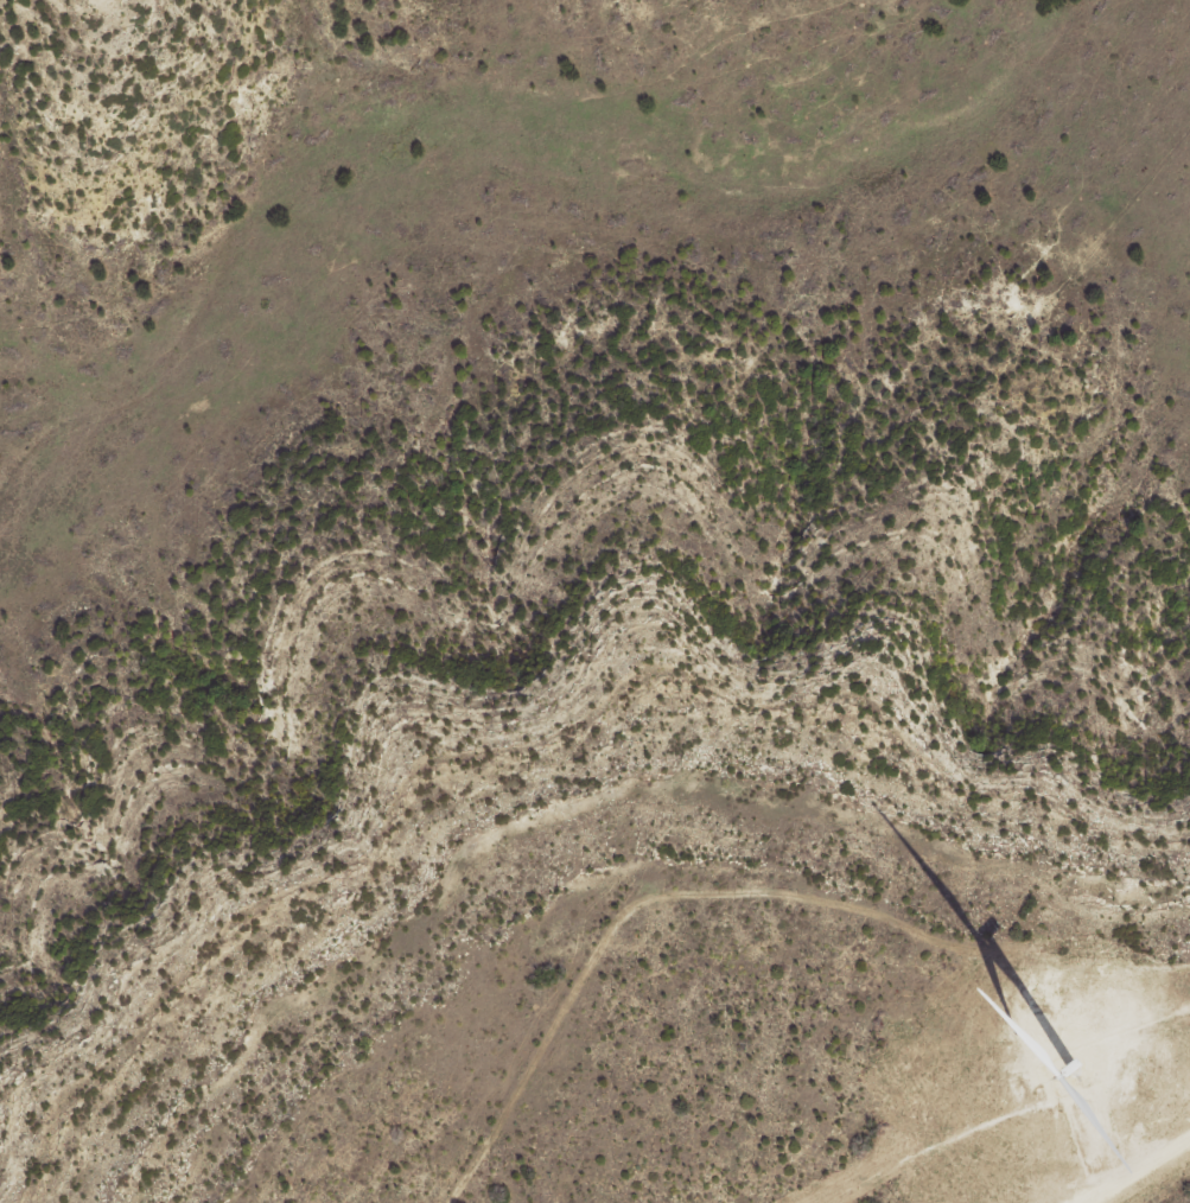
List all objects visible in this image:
wind turbine: (1062, 1064)

